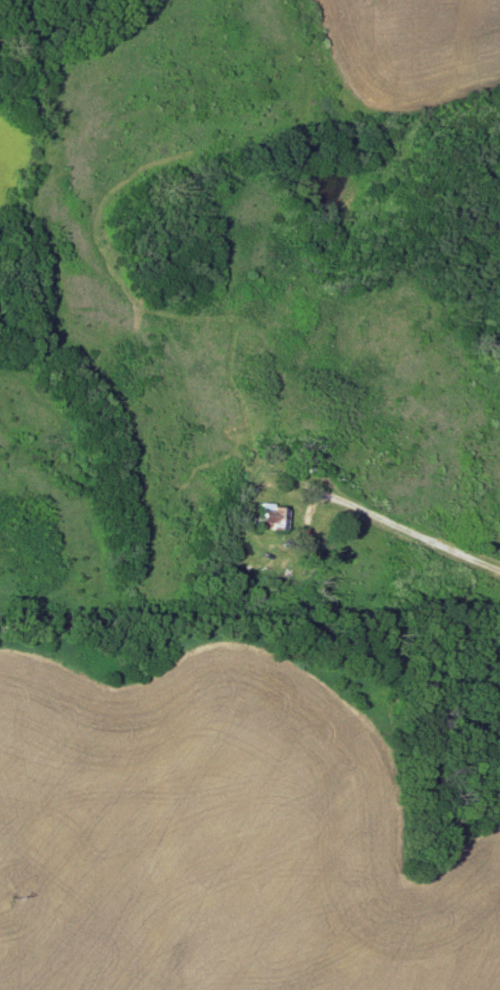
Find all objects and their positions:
building: (307, 460)
road: (391, 505)
building: (273, 515)

